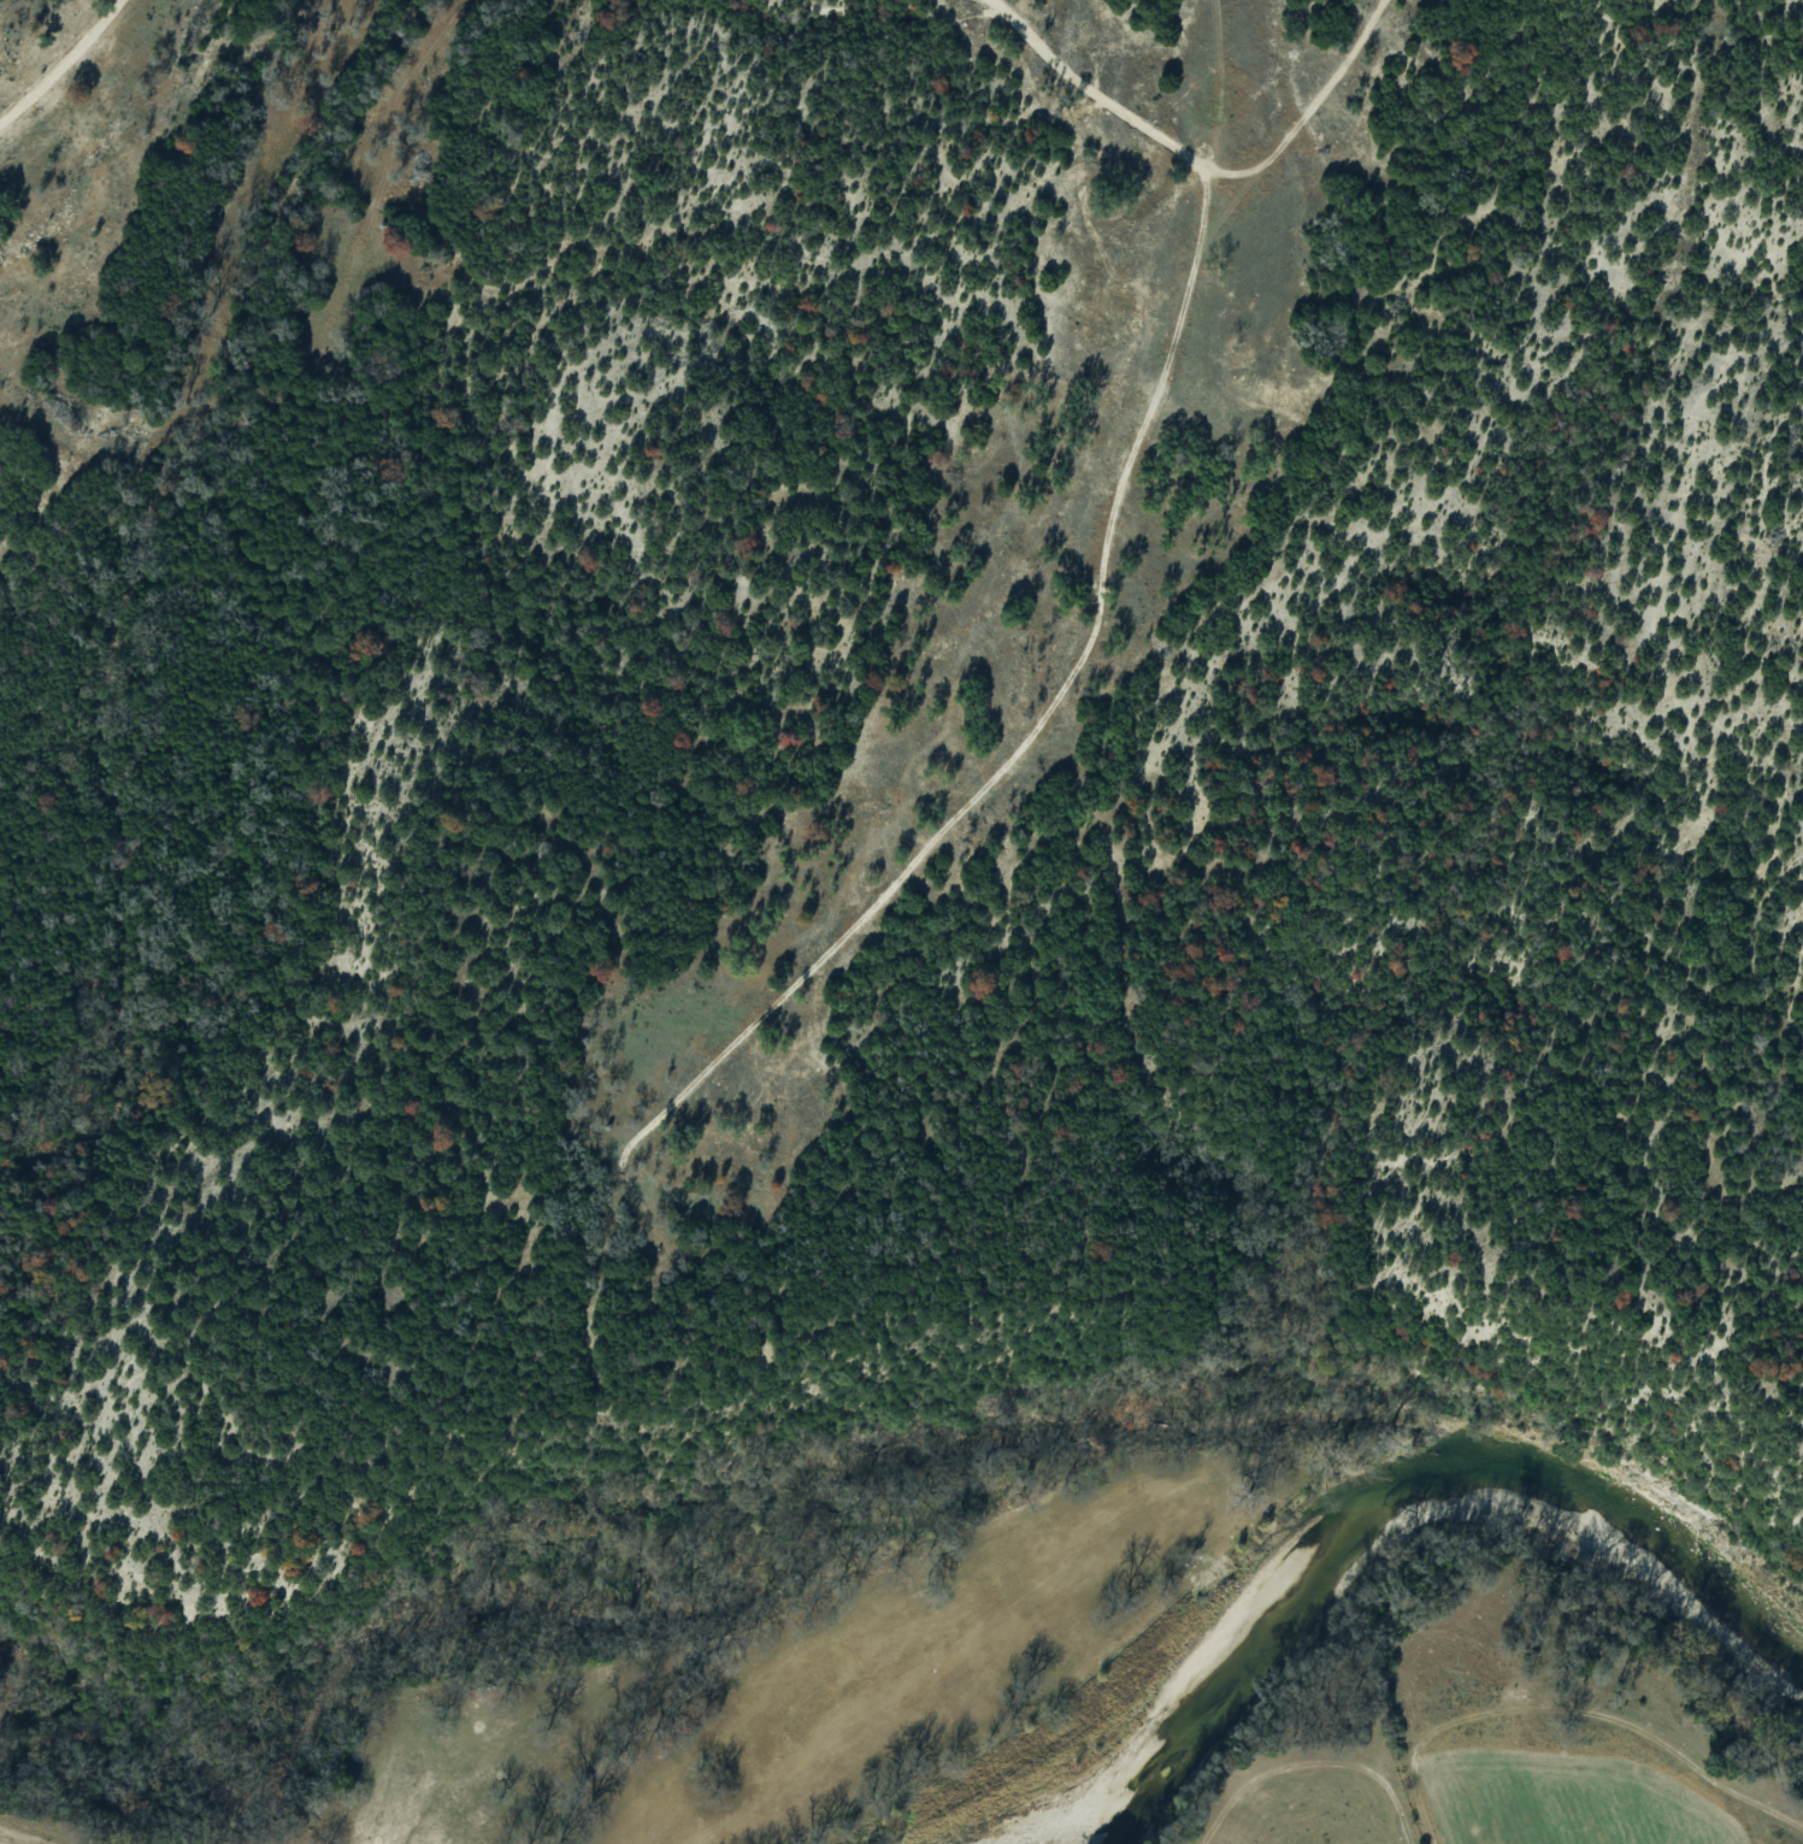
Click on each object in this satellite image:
river: (1413, 1479)

